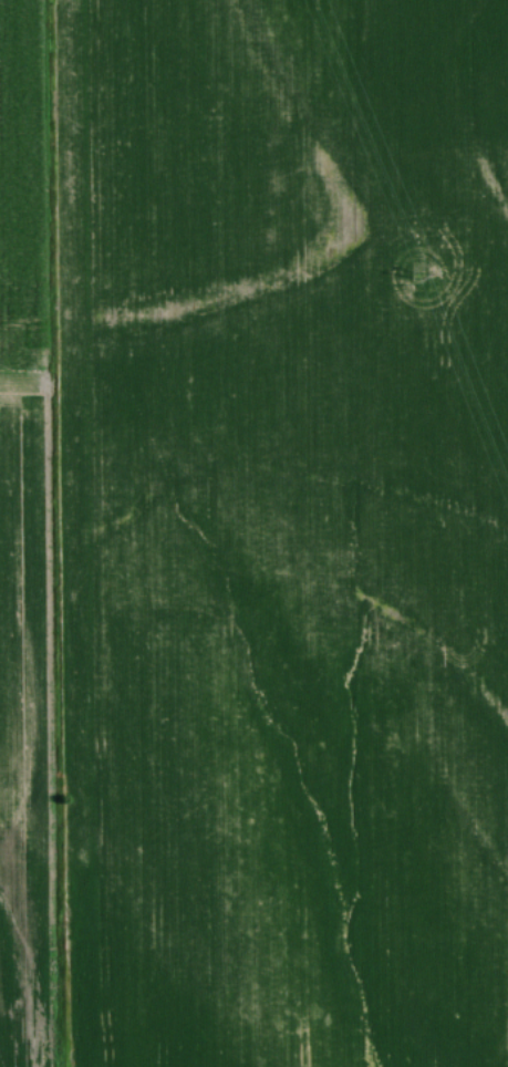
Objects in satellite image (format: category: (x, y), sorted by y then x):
power tower: (419, 281)

